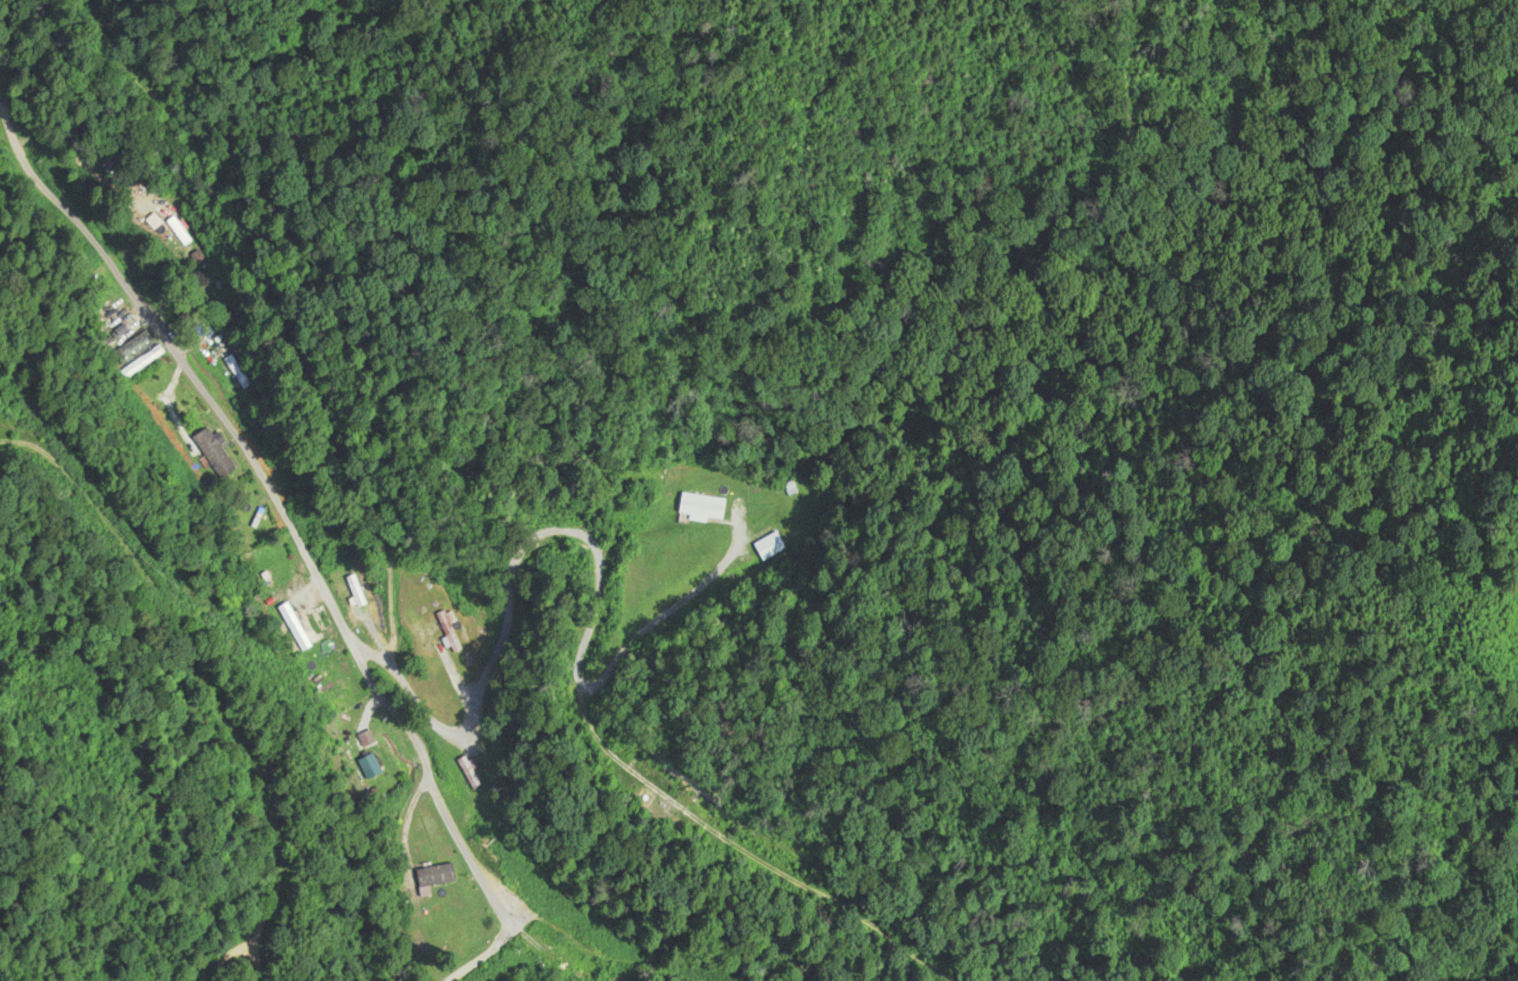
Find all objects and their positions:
building: (154, 222)
building: (179, 232)
building: (133, 349)
building: (236, 372)
building: (213, 453)
road: (267, 493)
building: (703, 507)
building: (369, 766)
building: (435, 875)
road: (445, 958)

